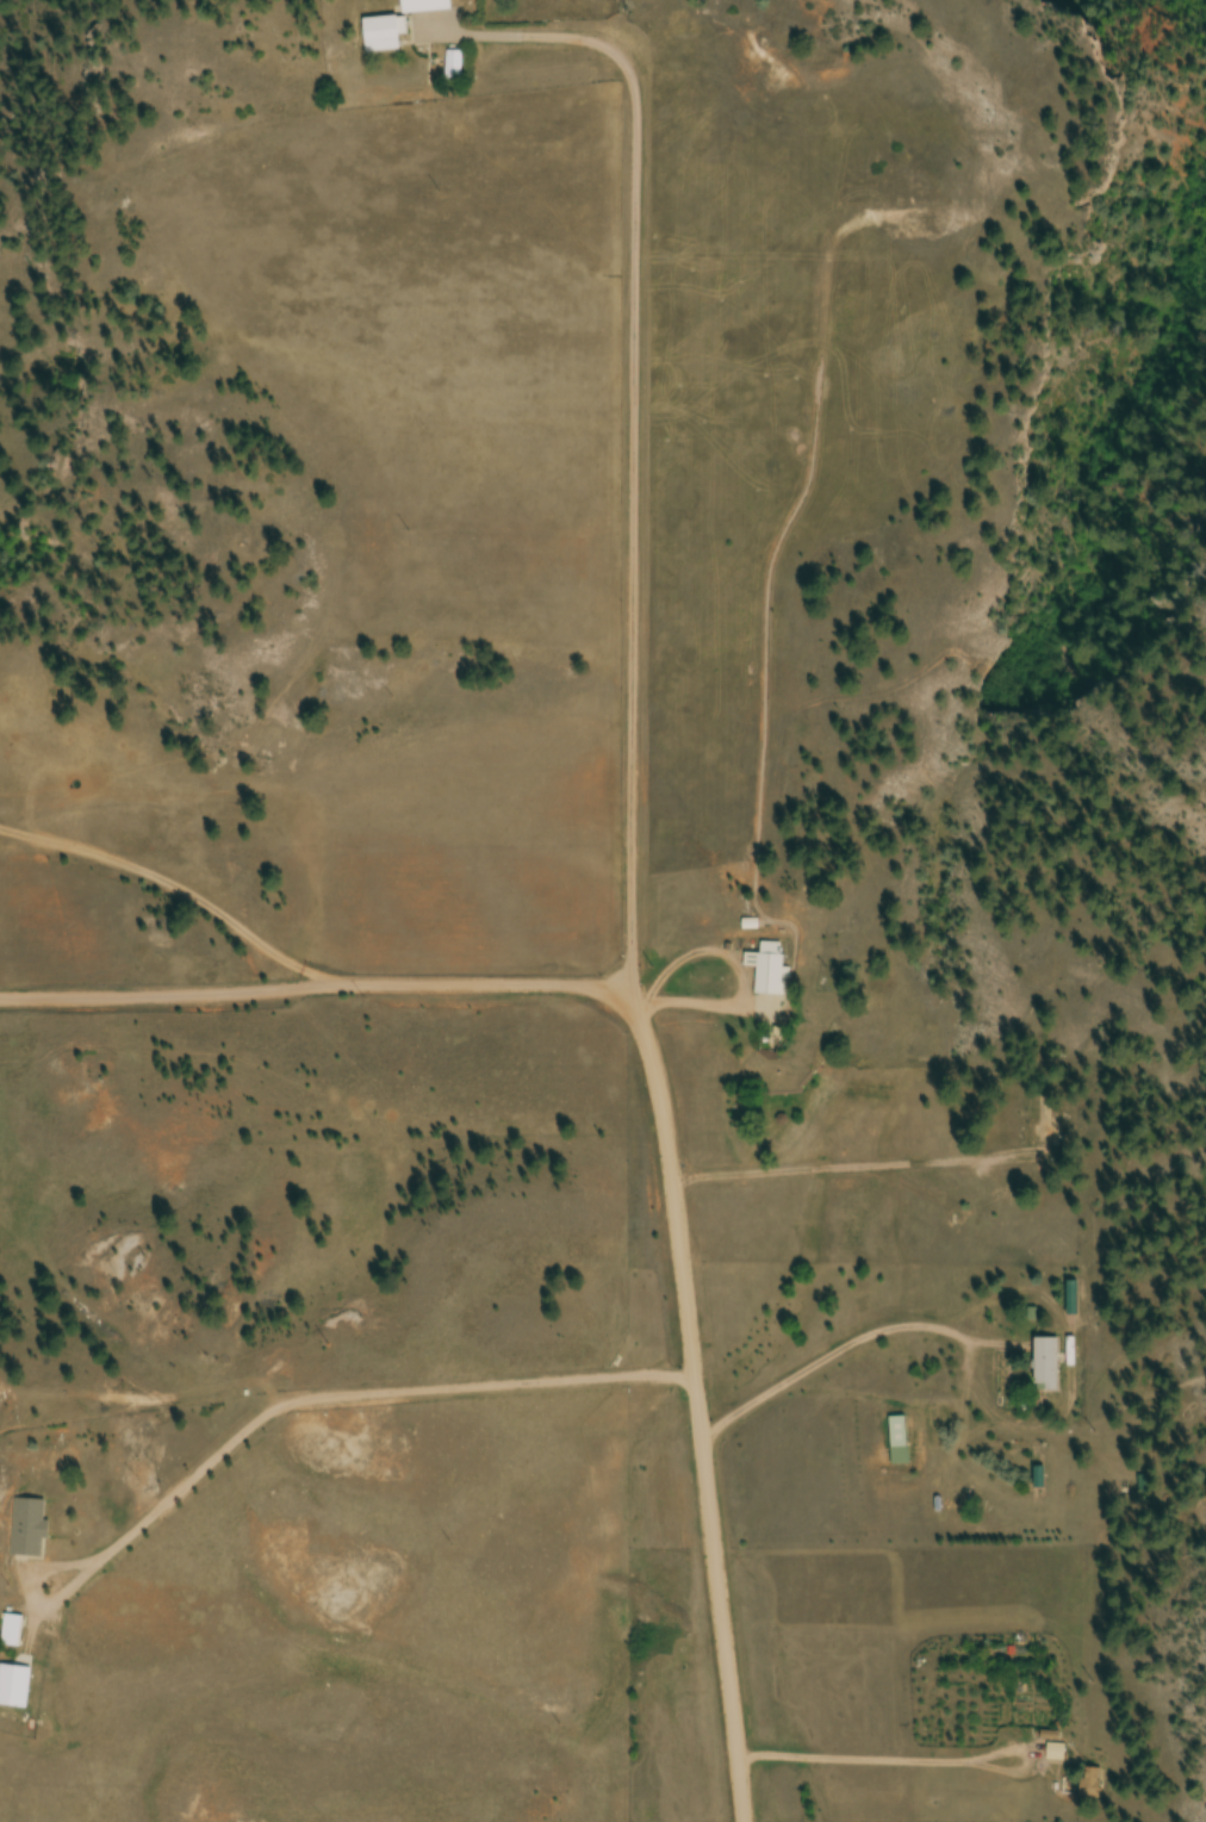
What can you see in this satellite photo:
building: (427, 7)
building: (385, 36)
road: (626, 69)
road: (642, 547)
building: (771, 972)
road: (184, 993)
road: (652, 1078)
building: (1045, 1118)
building: (1048, 1368)
building: (899, 1443)
building: (29, 1530)
building: (13, 1633)
building: (14, 1689)
building: (1092, 1785)

